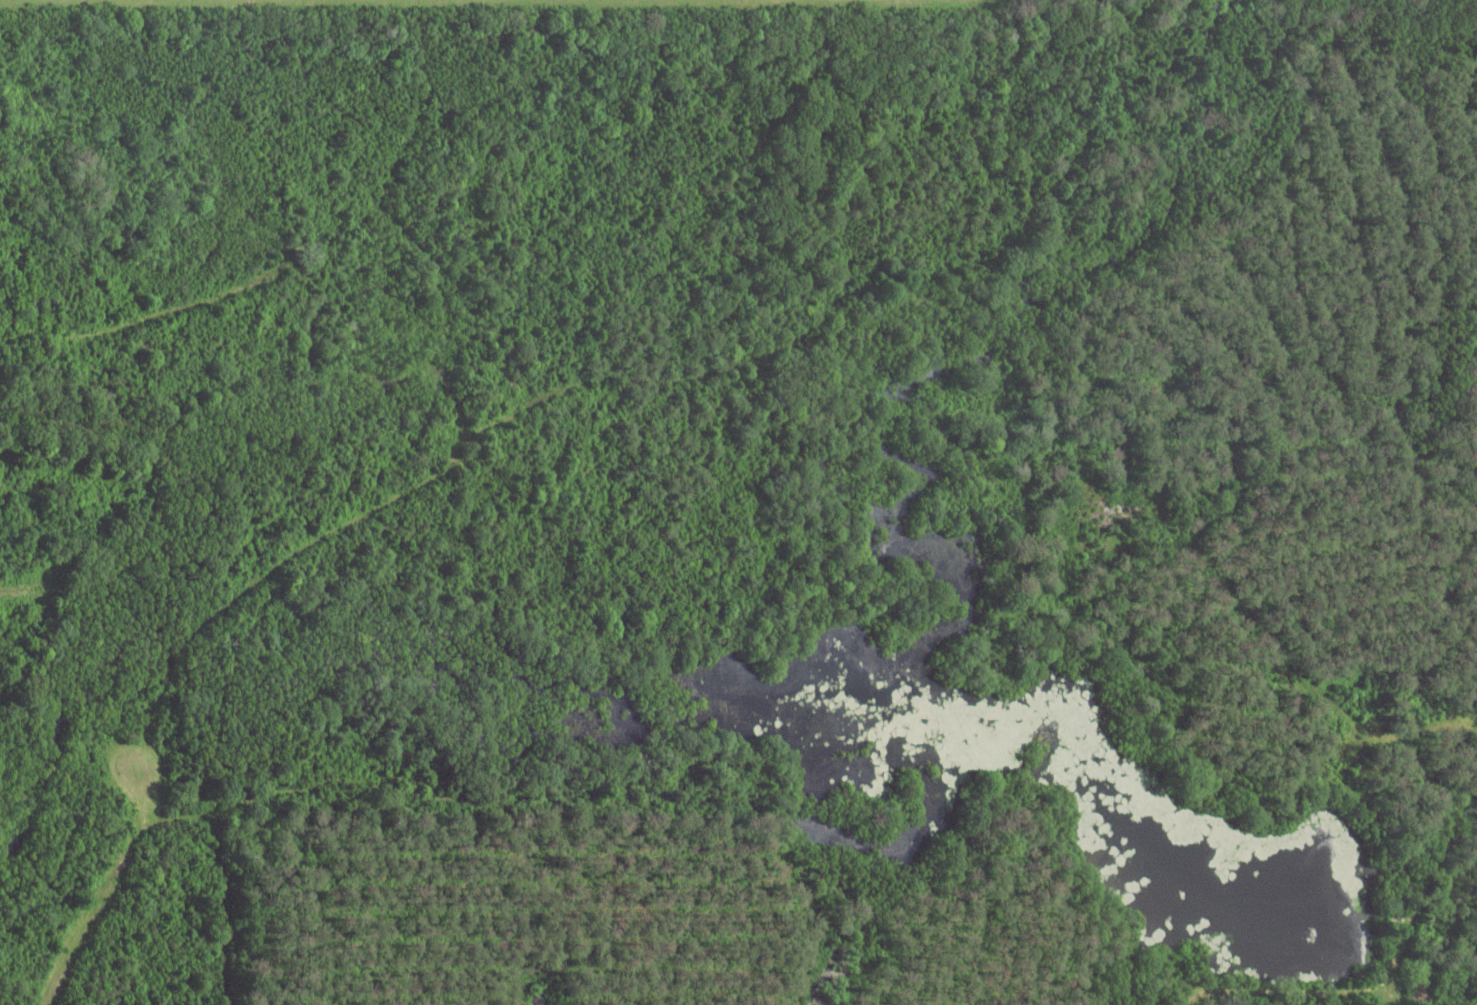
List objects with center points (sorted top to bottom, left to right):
building: (1420, 994)

